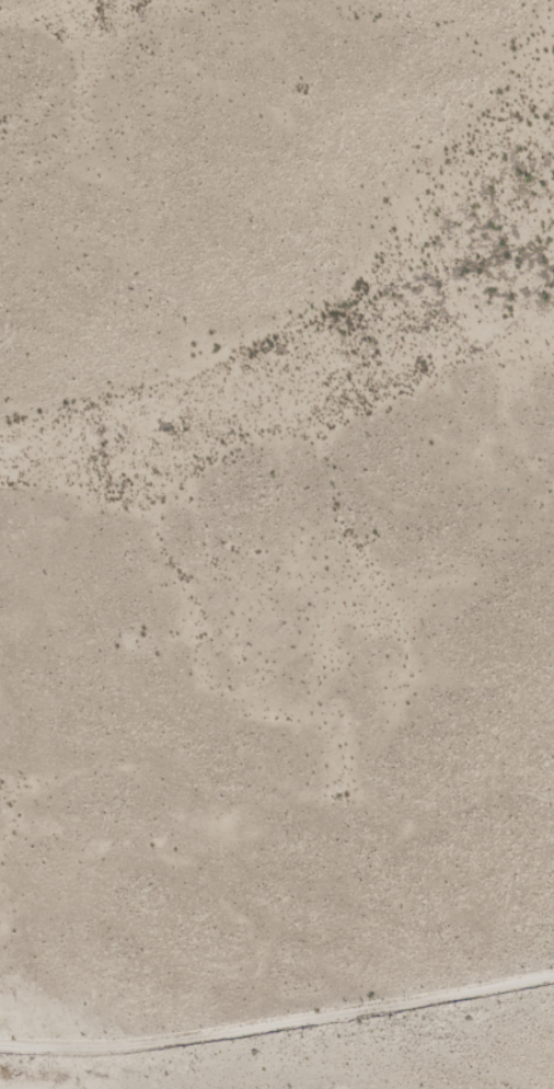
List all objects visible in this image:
road: (277, 975)

